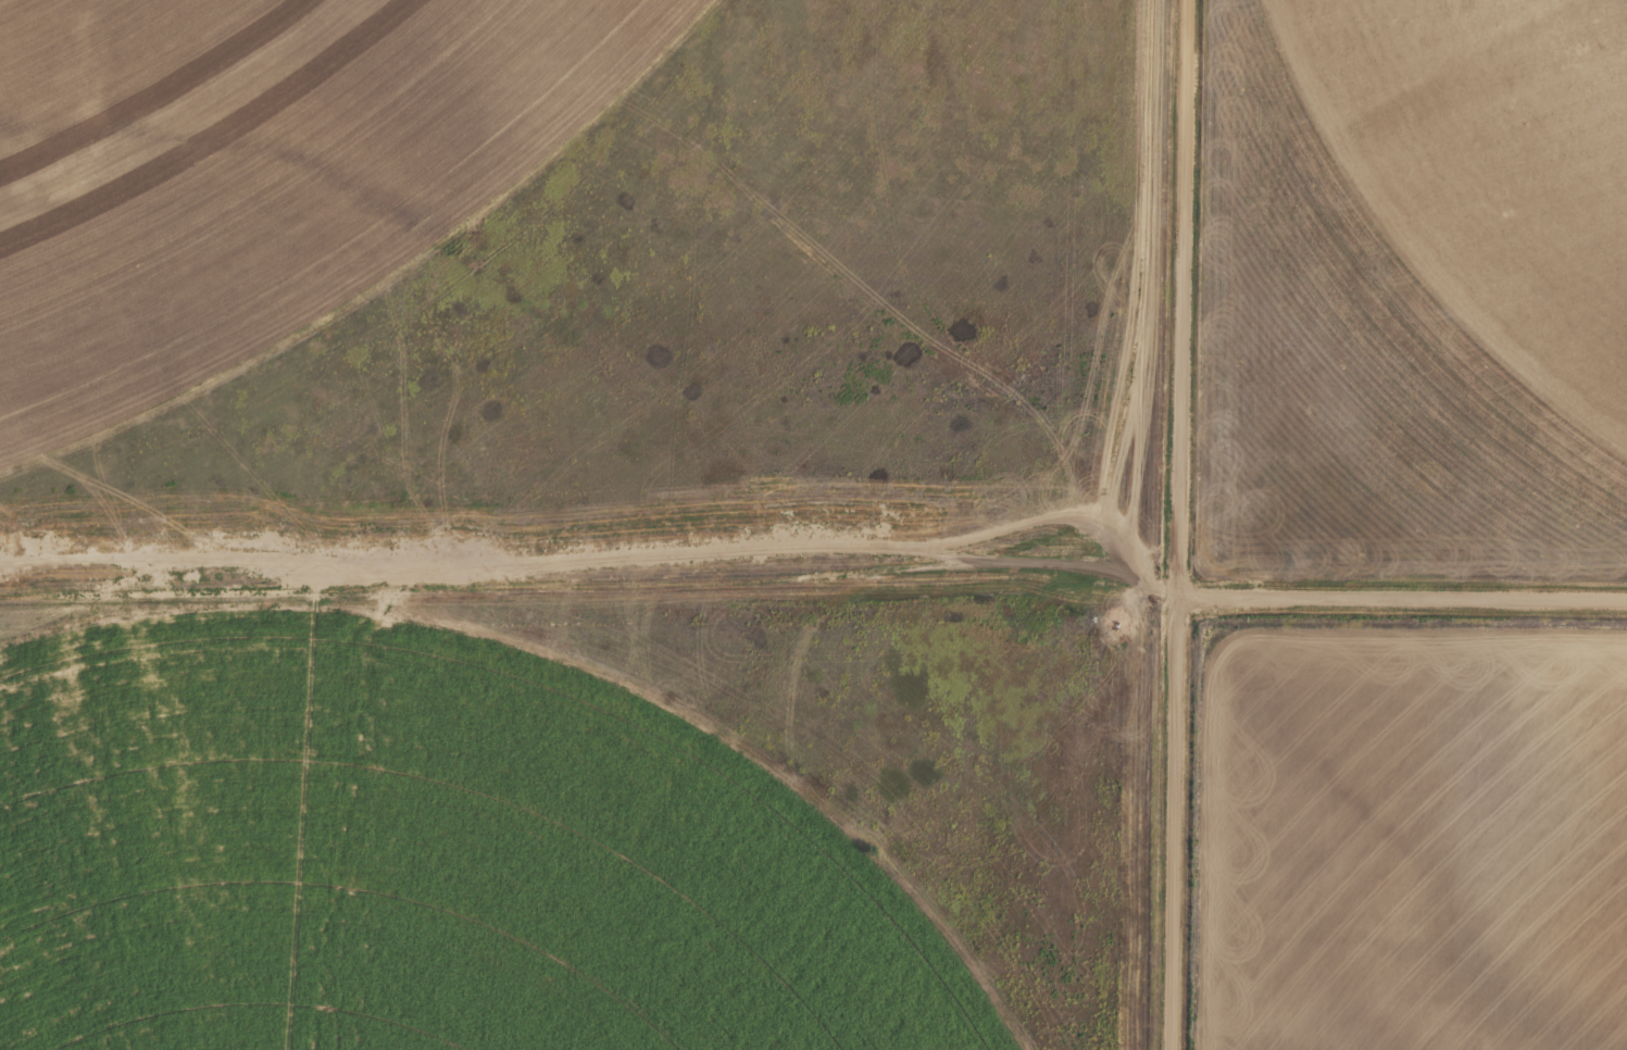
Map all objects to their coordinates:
road: (1180, 524)
road: (1403, 600)

